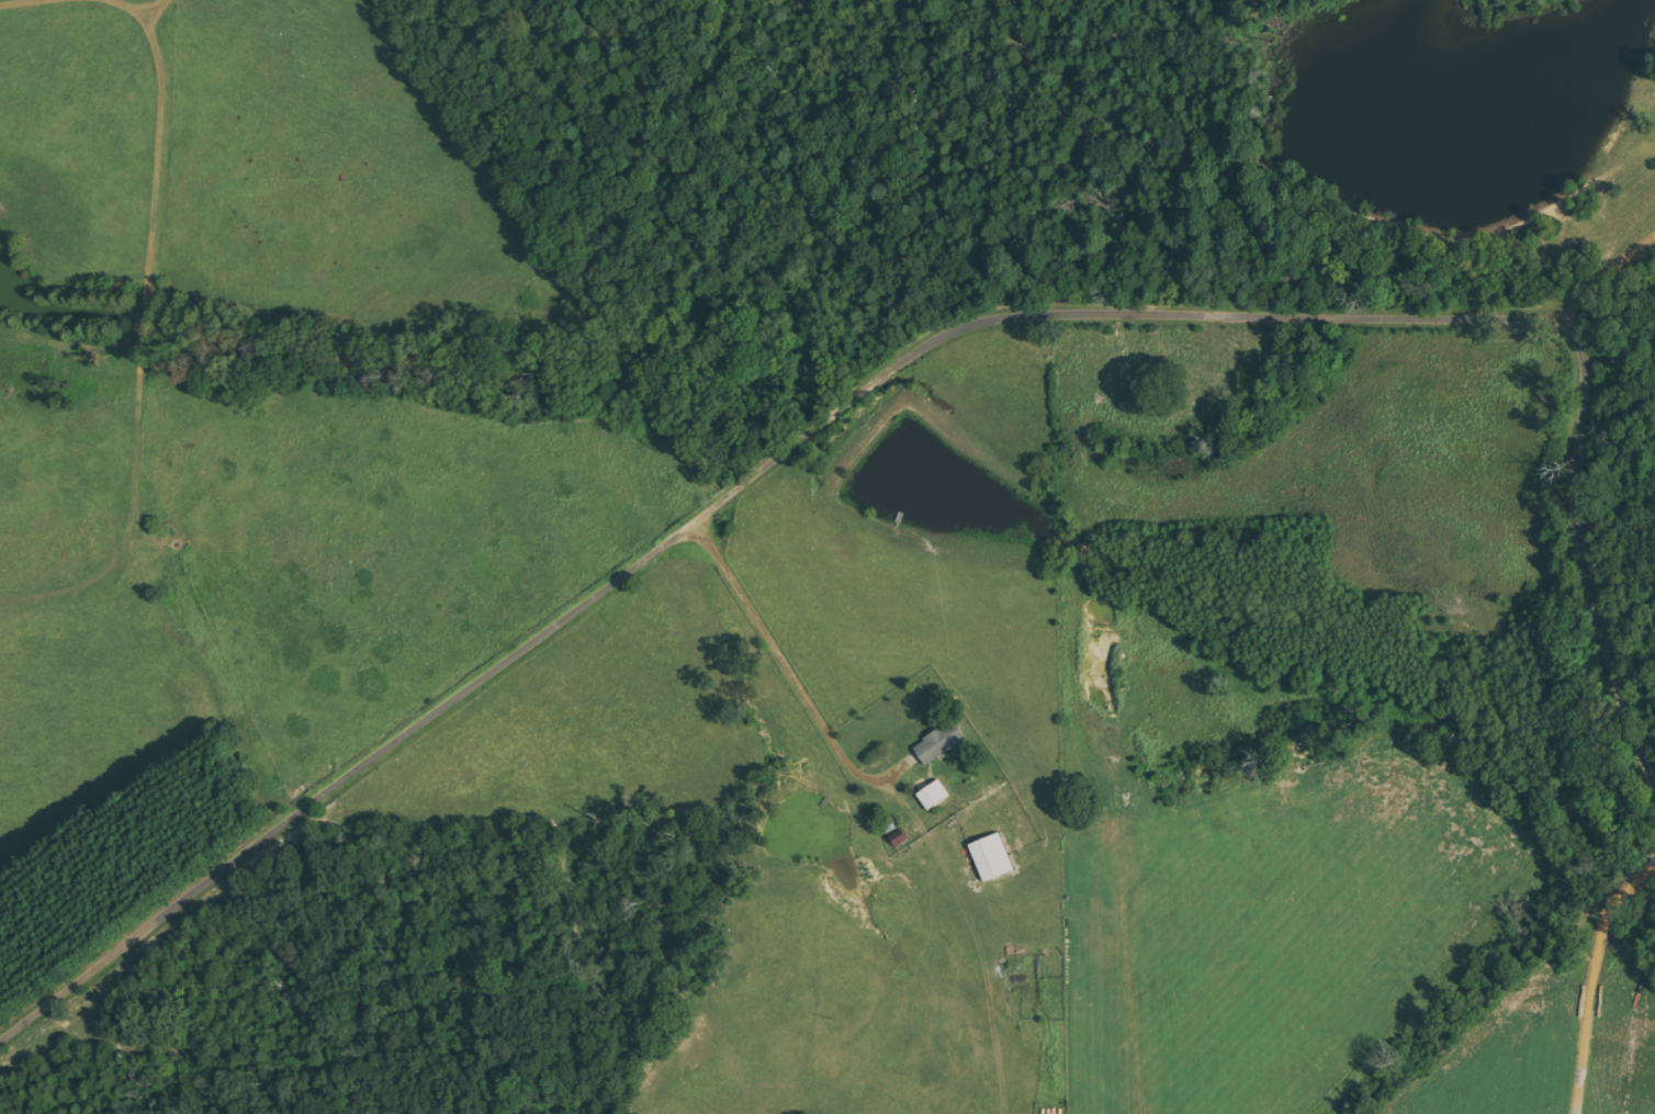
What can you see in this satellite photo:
road: (911, 356)
building: (941, 741)
building: (934, 794)
building: (992, 856)

